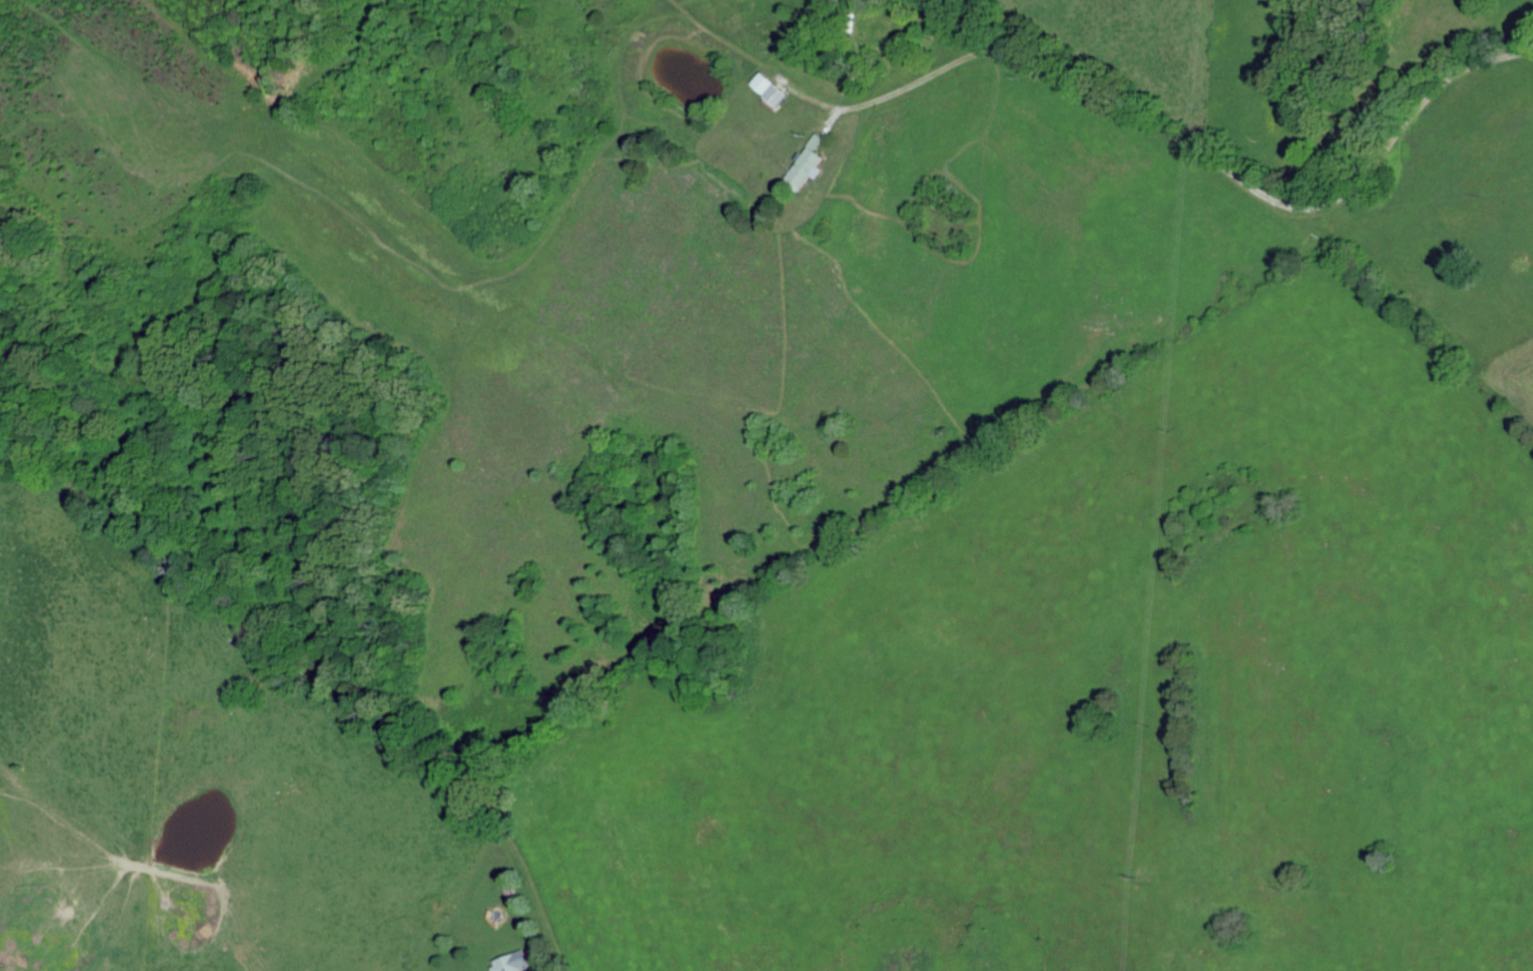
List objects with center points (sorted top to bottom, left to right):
building: (766, 89)
building: (805, 164)
building: (519, 961)

